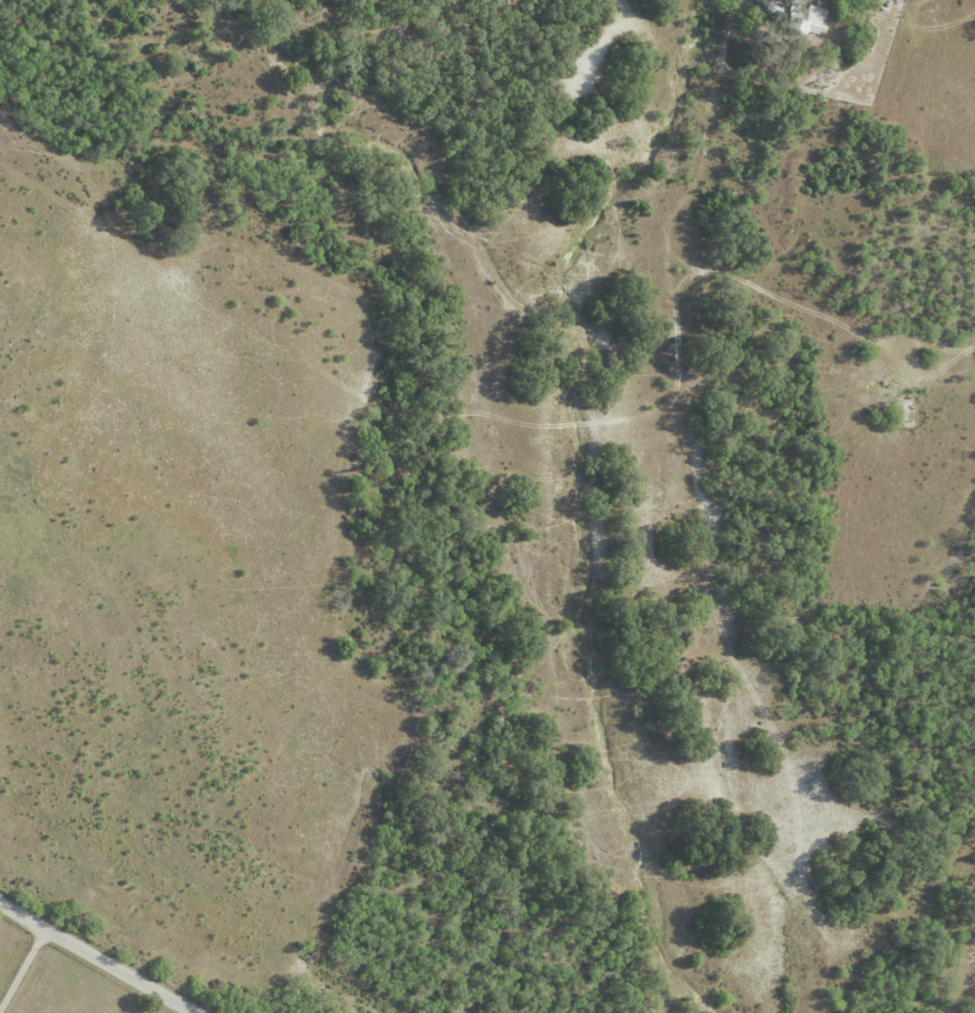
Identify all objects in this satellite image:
building: (814, 20)
road: (102, 959)
road: (23, 972)

